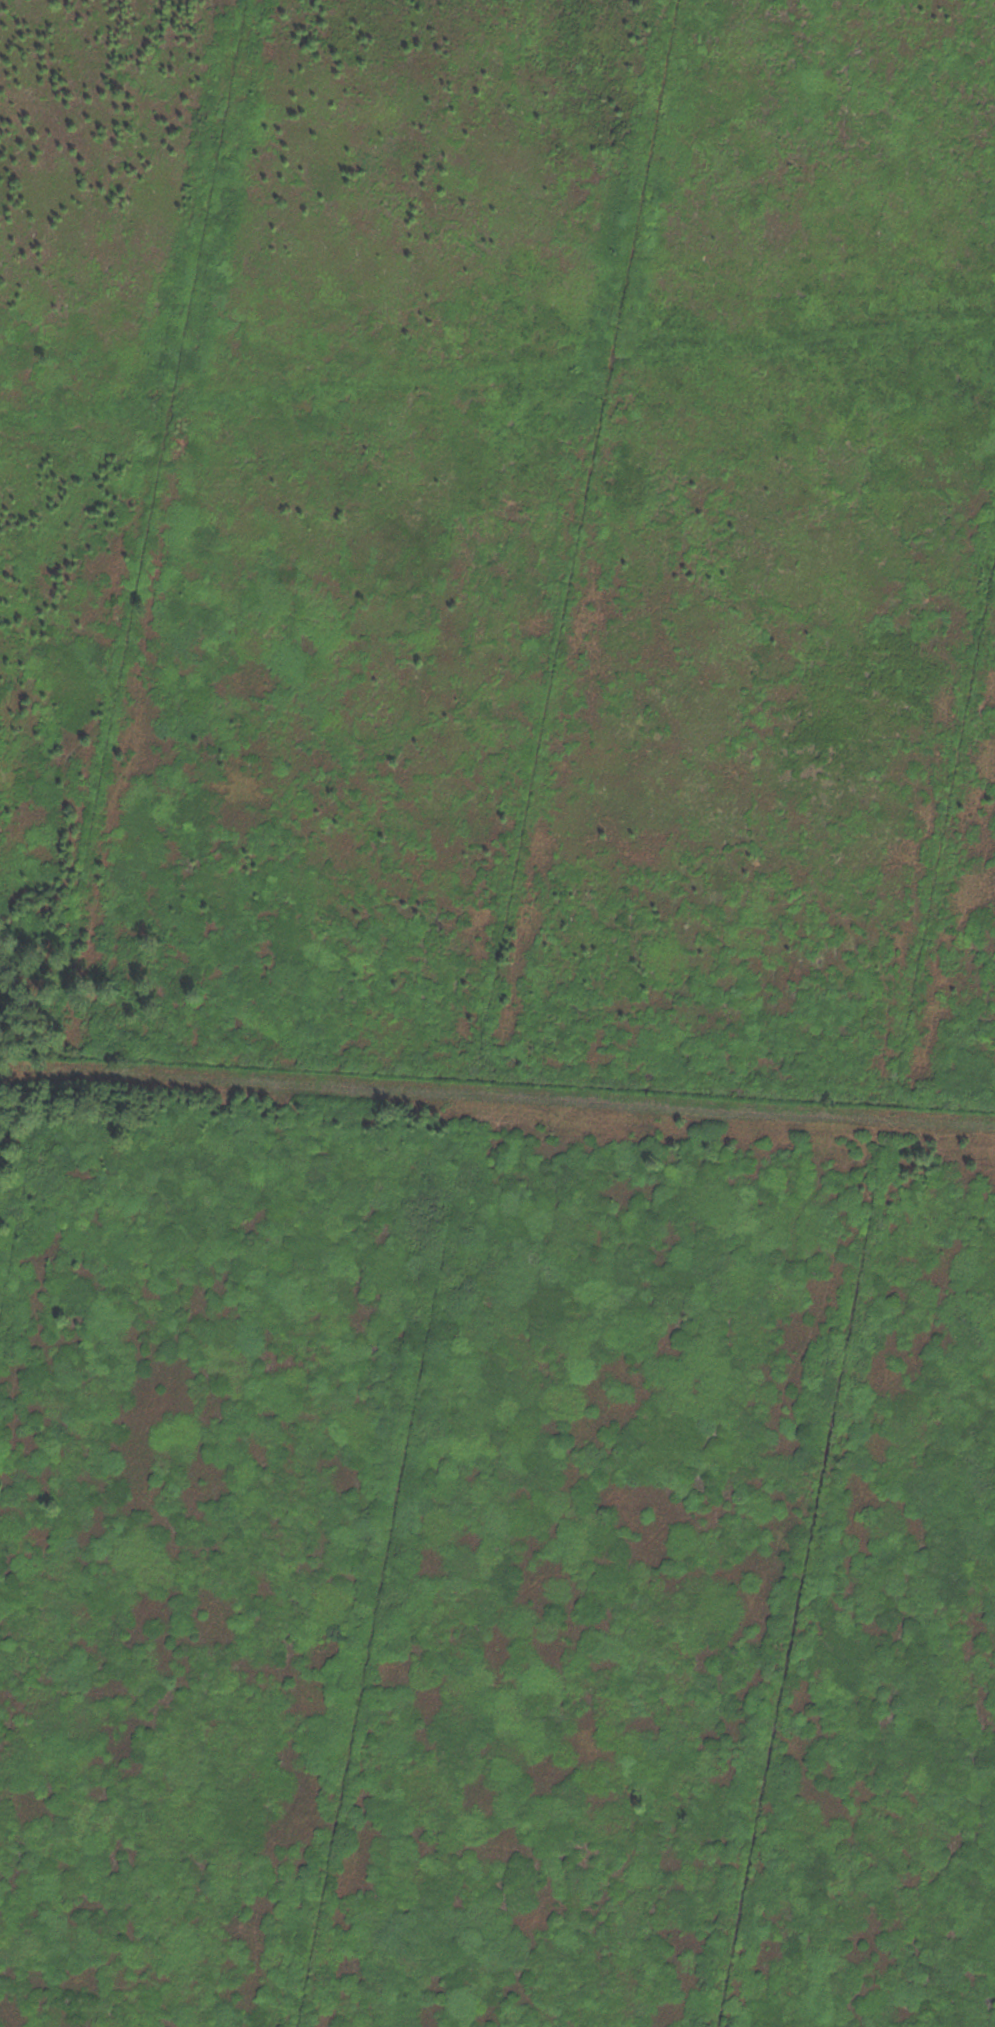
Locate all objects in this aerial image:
road: (497, 1095)

